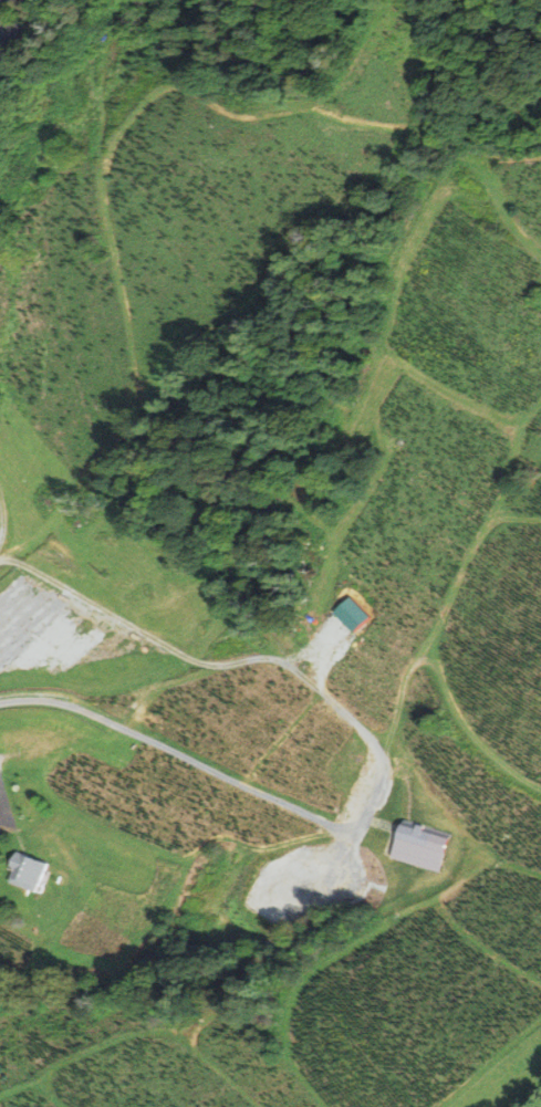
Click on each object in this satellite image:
road: (3, 0)
building: (14, 31)
road: (2, 515)
road: (169, 751)
building: (414, 838)

